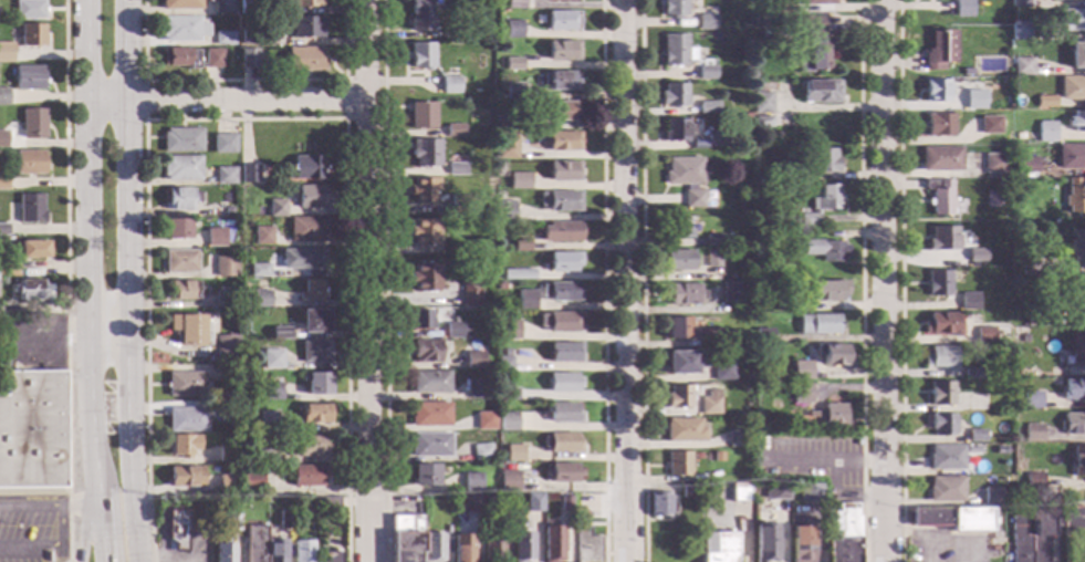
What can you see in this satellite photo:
building: (560, 0)
building: (817, 2)
building: (304, 3)
building: (1020, 3)
building: (180, 4)
building: (514, 4)
building: (783, 6)
building: (222, 7)
building: (248, 7)
building: (671, 8)
building: (29, 9)
building: (962, 9)
building: (419, 15)
building: (705, 18)
building: (562, 20)
building: (783, 20)
building: (1071, 20)
building: (305, 27)
building: (182, 29)
building: (512, 29)
building: (1020, 31)
building: (31, 35)
building: (247, 37)
building: (223, 38)
building: (814, 45)
building: (562, 50)
building: (676, 50)
road: (86, 51)
building: (939, 51)
building: (2, 53)
building: (419, 55)
building: (1077, 55)
building: (179, 58)
building: (247, 58)
building: (211, 59)
building: (302, 59)
building: (512, 63)
building: (1022, 66)
building: (967, 72)
building: (705, 73)
building: (29, 77)
road: (241, 81)
building: (559, 81)
building: (448, 84)
building: (1072, 87)
building: (512, 91)
building: (821, 91)
building: (936, 91)
building: (672, 95)
building: (3, 97)
road: (343, 100)
building: (974, 100)
road: (144, 101)
road: (225, 102)
building: (762, 102)
building: (1045, 102)
building: (707, 107)
building: (559, 111)
building: (420, 114)
road: (243, 119)
building: (763, 121)
building: (503, 122)
building: (1077, 122)
building: (32, 124)
building: (939, 124)
building: (989, 125)
building: (452, 129)
building: (675, 129)
building: (1046, 132)
building: (1029, 136)
building: (2, 138)
building: (716, 139)
building: (181, 140)
building: (559, 140)
building: (222, 142)
building: (504, 146)
building: (1015, 150)
building: (424, 153)
building: (1072, 157)
building: (825, 159)
building: (941, 159)
building: (29, 163)
building: (994, 164)
road: (125, 165)
building: (1025, 165)
building: (180, 168)
building: (306, 168)
building: (453, 168)
building: (562, 170)
building: (790, 170)
building: (251, 174)
building: (223, 175)
building: (686, 178)
building: (518, 180)
building: (3, 184)
building: (420, 190)
building: (1016, 191)
building: (497, 194)
building: (1075, 196)
building: (312, 197)
building: (939, 197)
building: (180, 198)
building: (993, 199)
building: (559, 200)
building: (459, 204)
building: (822, 204)
building: (486, 207)
building: (274, 208)
building: (30, 209)
building: (229, 210)
building: (503, 210)
road: (87, 218)
building: (487, 218)
building: (678, 227)
building: (176, 229)
building: (305, 229)
building: (2, 230)
building: (421, 231)
building: (560, 231)
building: (260, 236)
building: (215, 238)
building: (942, 239)
building: (714, 240)
building: (520, 244)
building: (1077, 248)
building: (32, 250)
building: (832, 251)
building: (974, 254)
building: (487, 256)
building: (300, 259)
building: (712, 259)
building: (562, 260)
building: (678, 260)
building: (180, 261)
building: (8, 267)
building: (225, 267)
building: (1030, 267)
building: (257, 271)
building: (524, 274)
building: (510, 275)
building: (422, 277)
road: (65, 280)
road: (365, 280)
road: (623, 280)
road: (383, 281)
road: (602, 281)
road: (641, 281)
road: (860, 281)
road: (881, 281)
road: (899, 281)
building: (937, 283)
building: (499, 287)
building: (31, 290)
building: (180, 290)
building: (311, 290)
building: (826, 290)
building: (731, 291)
building: (468, 292)
building: (560, 292)
building: (684, 293)
building: (1074, 294)
building: (225, 296)
building: (525, 299)
building: (259, 300)
building: (968, 301)
building: (787, 302)
building: (243, 305)
building: (1036, 316)
building: (419, 320)
building: (312, 321)
building: (560, 321)
building: (818, 324)
building: (941, 324)
building: (678, 327)
building: (189, 329)
building: (451, 329)
building: (507, 329)
road: (109, 332)
building: (279, 333)
building: (984, 334)
building: (763, 335)
building: (707, 336)
building: (226, 347)
building: (1078, 348)
building: (425, 351)
building: (505, 351)
building: (313, 352)
building: (564, 352)
building: (832, 354)
building: (939, 357)
building: (270, 358)
building: (472, 360)
building: (684, 362)
building: (502, 363)
building: (721, 370)
building: (802, 370)
building: (971, 374)
building: (428, 381)
building: (560, 381)
building: (315, 383)
building: (185, 384)
building: (474, 388)
building: (1074, 389)
building: (270, 392)
building: (801, 393)
building: (508, 394)
building: (940, 394)
building: (677, 396)
building: (1031, 400)
building: (708, 403)
building: (976, 405)
building: (502, 407)
building: (227, 413)
building: (313, 413)
building: (561, 413)
building: (428, 414)
building: (831, 414)
road: (90, 417)
building: (186, 420)
building: (482, 420)
building: (264, 421)
building: (507, 421)
building: (1073, 423)
building: (940, 425)
building: (682, 429)
building: (250, 430)
building: (32, 434)
building: (976, 435)
building: (1033, 435)
building: (735, 437)
building: (561, 441)
building: (184, 444)
building: (311, 445)
building: (429, 445)
road: (133, 446)
building: (999, 450)
building: (480, 451)
building: (227, 452)
building: (512, 452)
building: (257, 454)
building: (696, 455)
road: (824, 457)
building: (945, 458)
building: (1078, 460)
building: (677, 462)
building: (563, 471)
building: (422, 475)
building: (186, 476)
building: (306, 476)
building: (507, 480)
building: (470, 481)
building: (1033, 481)
building: (250, 482)
building: (227, 485)
building: (533, 485)
building: (687, 489)
building: (775, 490)
building: (946, 490)
building: (740, 492)
building: (810, 492)
building: (991, 496)
building: (445, 498)
building: (488, 501)
building: (330, 502)
building: (468, 502)
building: (532, 502)
building: (563, 502)
road: (79, 504)
building: (658, 504)
road: (31, 507)
building: (505, 508)
building: (313, 509)
building: (952, 519)
building: (283, 520)
building: (1071, 521)
building: (232, 522)
parking lot: (24, 530)
road: (82, 530)
building: (176, 530)
road: (101, 532)
building: (845, 533)
building: (1031, 537)
building: (405, 538)
building: (520, 541)
building: (254, 542)
building: (551, 542)
building: (764, 542)
building: (801, 543)
building: (585, 545)
building: (717, 545)
road: (48, 547)
building: (432, 547)
building: (491, 547)
building: (461, 548)
building: (274, 550)
building: (223, 551)
building: (301, 551)
building: (1075, 554)
building: (331, 555)

